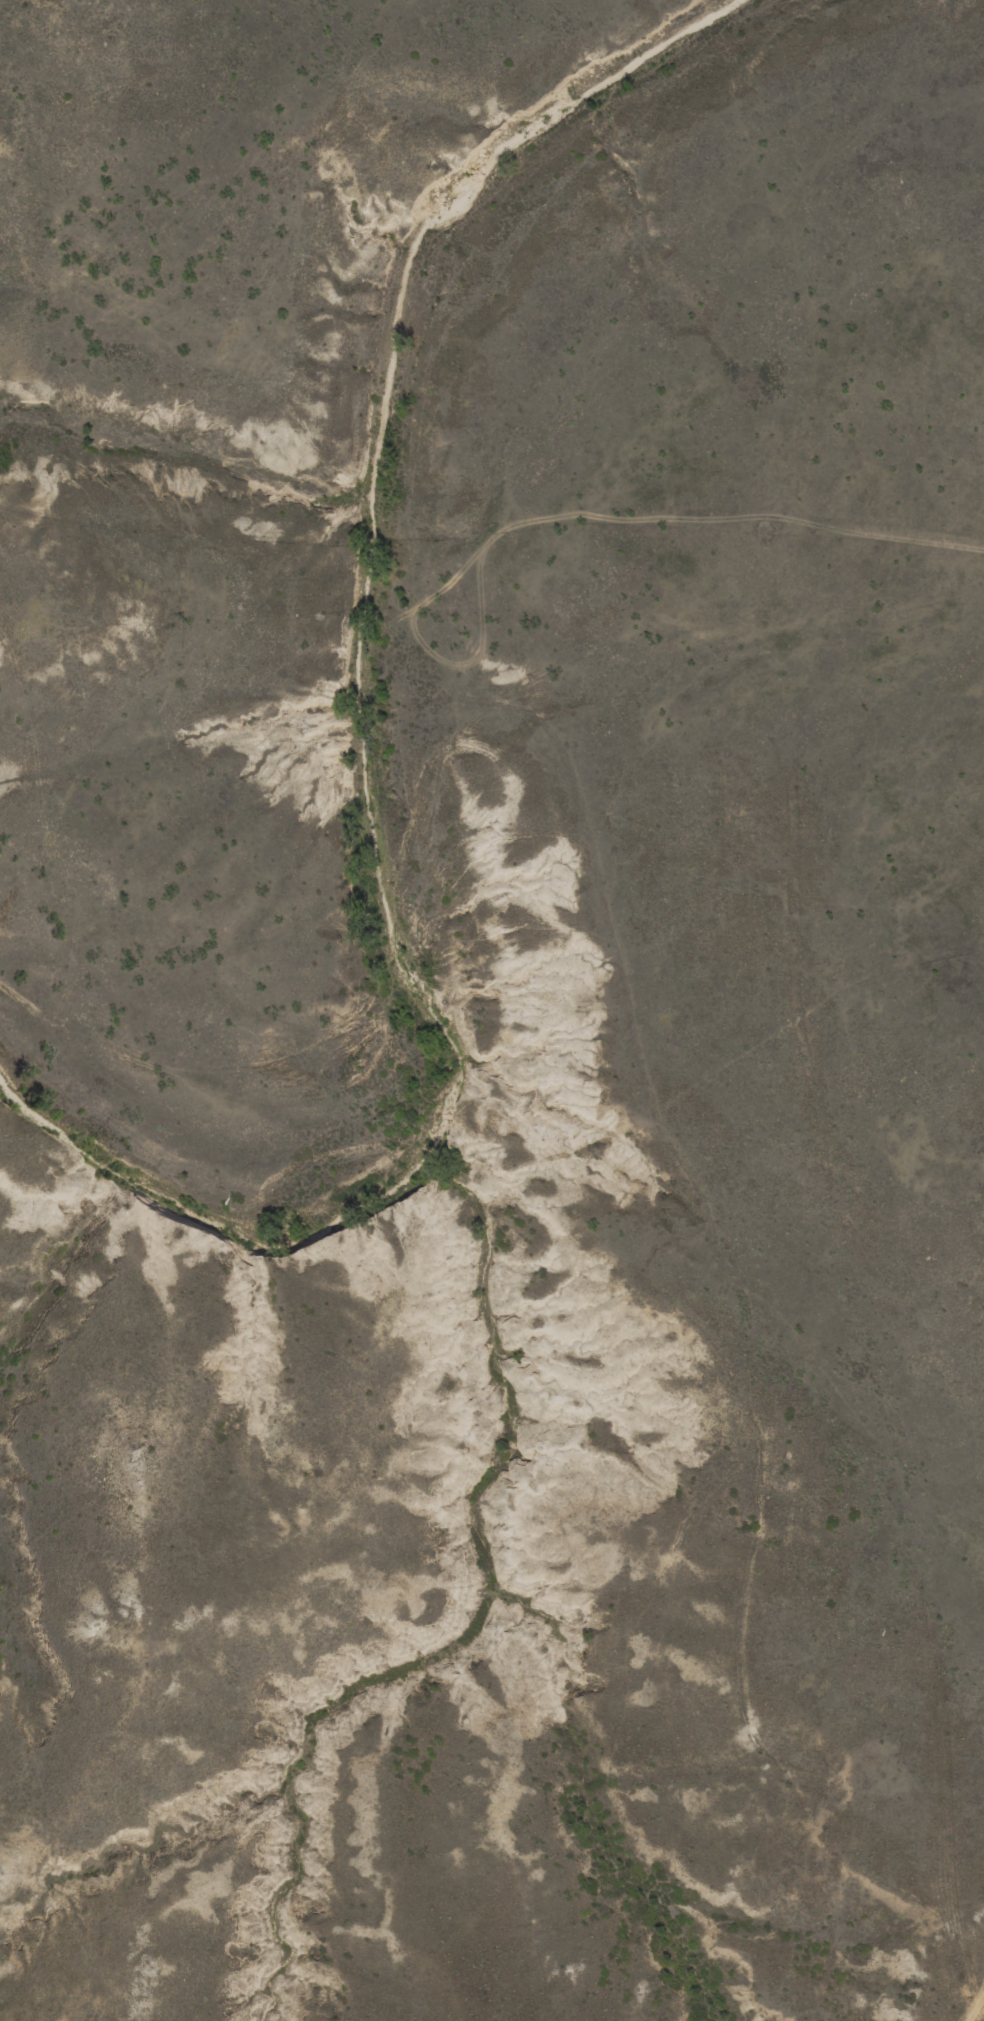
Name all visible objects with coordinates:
river: (368, 762)
road: (455, 799)
road: (956, 1911)

